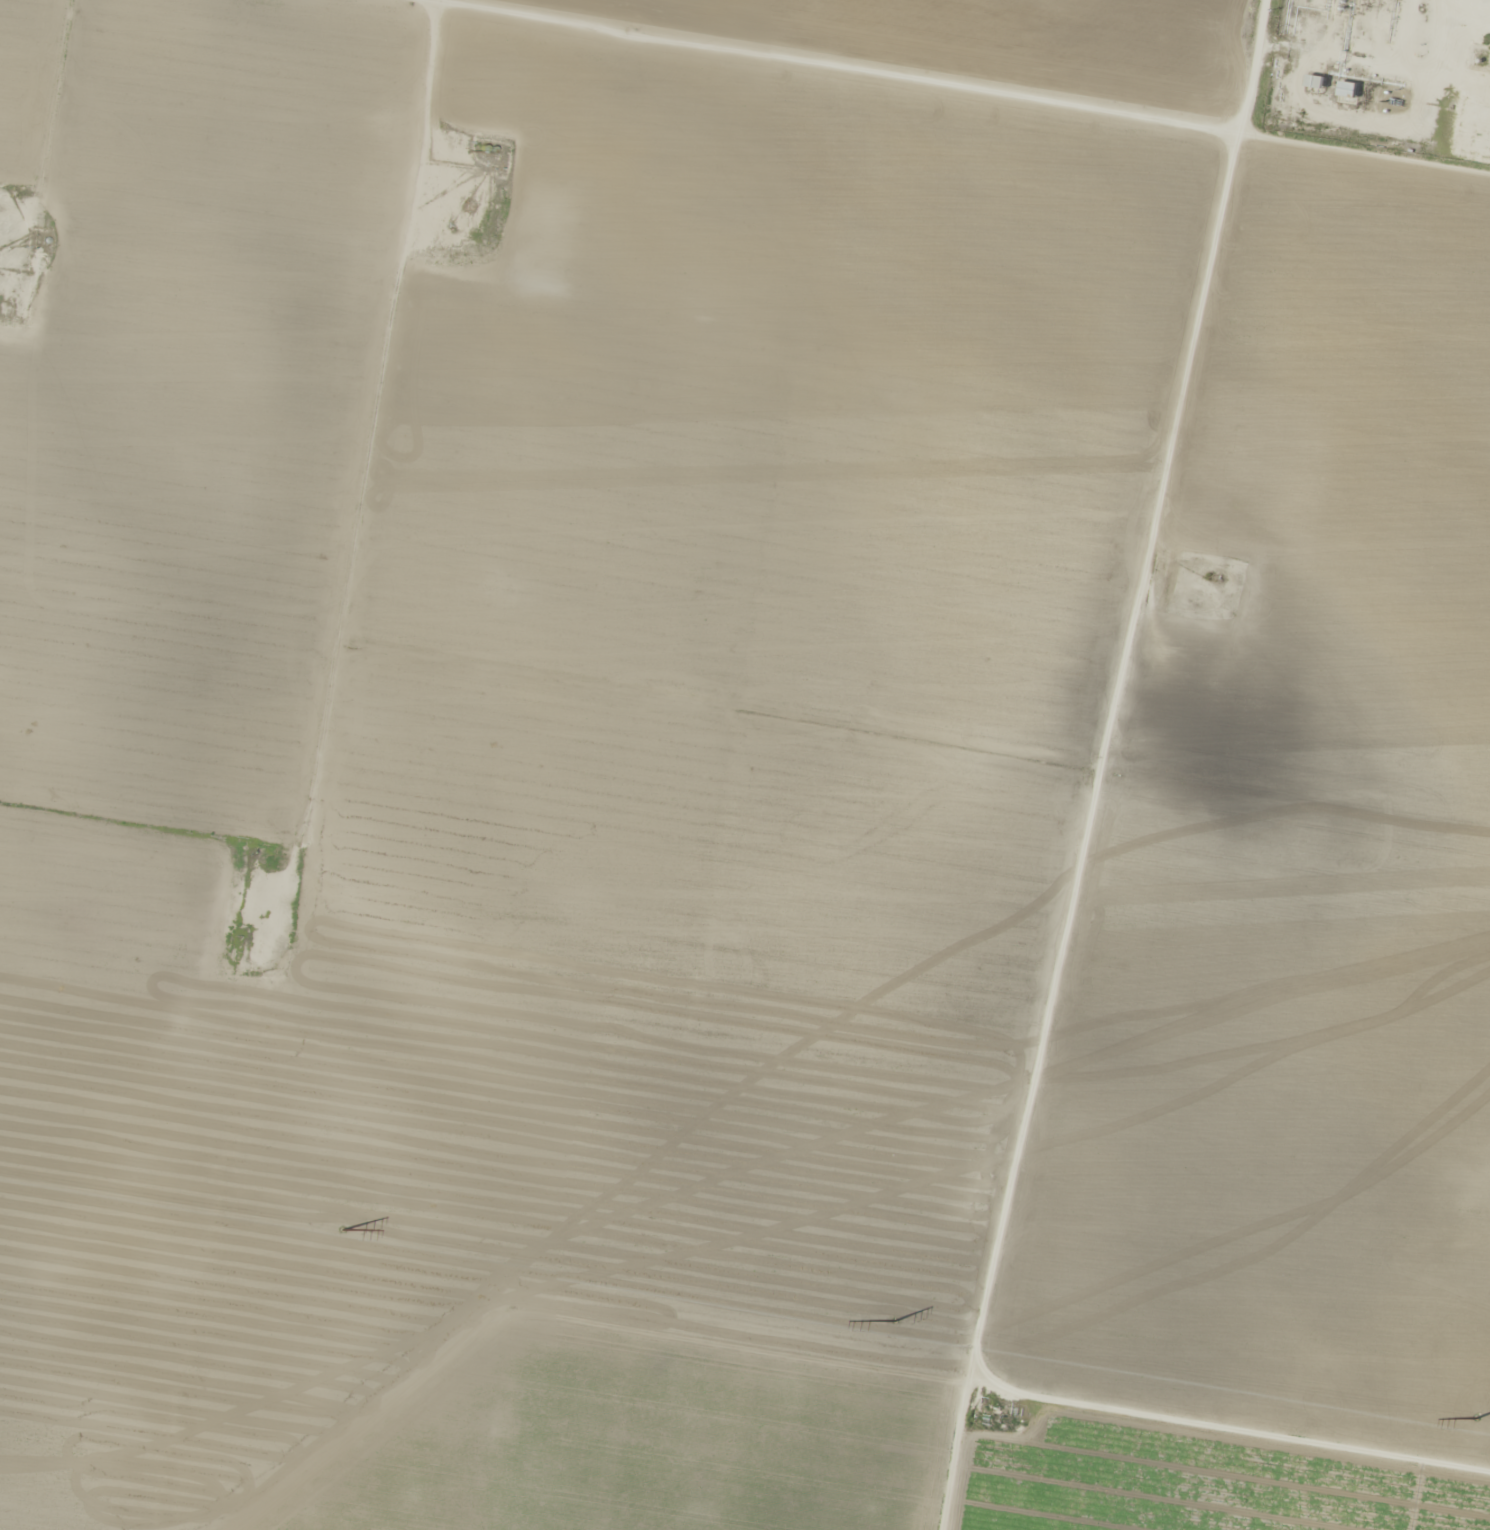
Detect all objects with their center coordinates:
building: (1314, 83)
building: (1346, 90)
road: (914, 100)
power tower: (345, 1234)
power tower: (900, 1326)
power tower: (1478, 1427)

